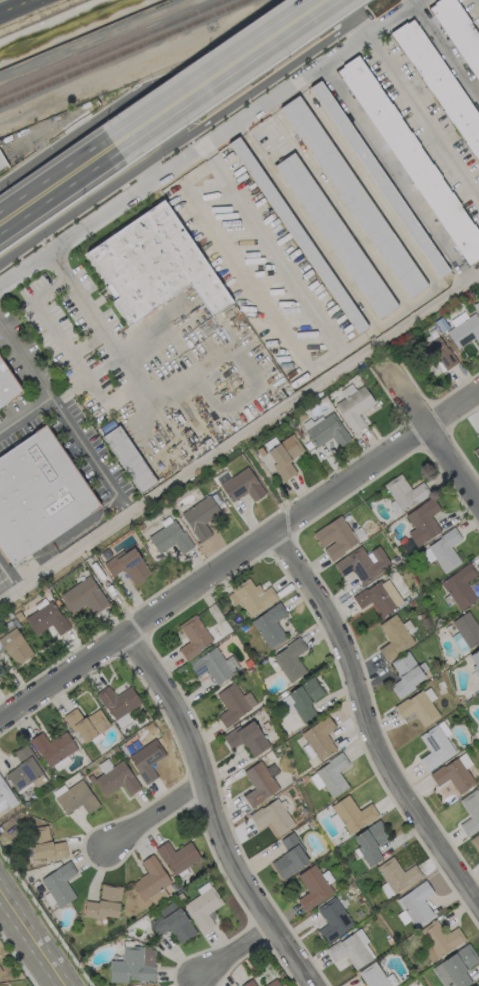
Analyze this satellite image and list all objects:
road: (478, 1)
road: (8, 3)
road: (351, 7)
road: (366, 23)
building: (461, 29)
railway: (115, 49)
road: (445, 51)
railway: (126, 54)
road: (213, 72)
building: (442, 82)
road: (422, 116)
road: (178, 127)
road: (207, 141)
building: (411, 158)
building: (1, 162)
road: (146, 171)
road: (394, 171)
building: (378, 178)
road: (55, 182)
building: (352, 196)
building: (335, 234)
road: (270, 248)
building: (152, 264)
road: (78, 294)
road: (42, 314)
building: (464, 328)
building: (438, 353)
road: (27, 360)
building: (6, 386)
road: (304, 388)
road: (158, 399)
road: (99, 400)
building: (354, 407)
road: (67, 418)
building: (325, 429)
building: (477, 434)
road: (443, 438)
building: (476, 452)
building: (284, 455)
building: (127, 458)
building: (242, 485)
building: (403, 493)
building: (38, 494)
building: (200, 516)
building: (422, 522)
building: (169, 537)
building: (334, 537)
road: (82, 542)
building: (443, 550)
road: (238, 556)
building: (362, 563)
building: (127, 564)
road: (7, 573)
building: (460, 586)
road: (14, 588)
building: (83, 595)
building: (251, 596)
building: (378, 596)
building: (46, 618)
building: (269, 625)
building: (467, 628)
building: (193, 636)
building: (393, 636)
building: (458, 641)
building: (14, 645)
building: (474, 659)
building: (289, 660)
building: (213, 665)
building: (406, 672)
building: (302, 699)
building: (117, 700)
building: (233, 703)
building: (417, 707)
road: (373, 721)
building: (86, 723)
building: (247, 737)
building: (319, 737)
building: (435, 745)
building: (53, 747)
building: (146, 759)
building: (24, 767)
building: (454, 773)
building: (329, 775)
building: (116, 779)
building: (259, 782)
building: (5, 796)
building: (76, 797)
road: (217, 808)
building: (470, 811)
building: (352, 813)
building: (273, 815)
road: (152, 817)
building: (370, 841)
building: (475, 842)
building: (44, 844)
building: (177, 856)
building: (290, 856)
building: (395, 875)
building: (151, 880)
building: (59, 883)
building: (313, 886)
building: (104, 902)
building: (203, 905)
building: (415, 905)
building: (333, 919)
building: (172, 922)
road: (31, 939)
building: (439, 939)
road: (238, 946)
building: (349, 949)
building: (129, 965)
building: (455, 967)
building: (0, 970)
building: (376, 976)
building: (248, 983)
building: (272, 983)
building: (153, 985)
building: (473, 985)

